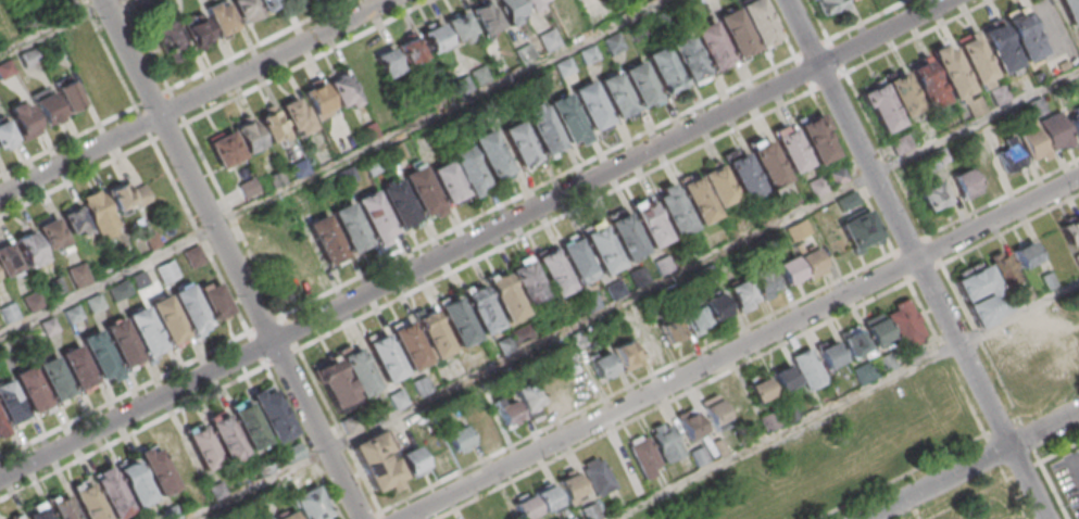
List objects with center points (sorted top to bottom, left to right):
building: (288, 0)
building: (851, 0)
road: (108, 1)
building: (532, 4)
building: (271, 7)
building: (828, 7)
building: (509, 10)
building: (1070, 10)
building: (244, 11)
building: (485, 17)
building: (756, 21)
building: (221, 22)
building: (457, 25)
road: (852, 27)
road: (52, 29)
building: (197, 30)
building: (733, 30)
building: (1022, 35)
building: (435, 37)
building: (548, 39)
building: (171, 40)
building: (710, 43)
road: (260, 45)
building: (998, 47)
building: (410, 49)
building: (587, 55)
building: (973, 56)
building: (688, 59)
road: (310, 62)
building: (563, 67)
building: (5, 68)
building: (387, 68)
building: (663, 69)
building: (950, 71)
building: (98, 75)
road: (852, 81)
building: (639, 83)
building: (927, 84)
building: (614, 92)
building: (66, 93)
building: (342, 93)
road: (196, 98)
building: (46, 103)
building: (590, 104)
building: (879, 106)
building: (23, 117)
building: (566, 117)
building: (1074, 122)
building: (271, 126)
building: (541, 129)
building: (4, 130)
building: (1054, 130)
building: (815, 138)
road: (153, 139)
road: (68, 141)
building: (517, 141)
building: (235, 142)
building: (1033, 142)
building: (899, 144)
building: (790, 150)
building: (490, 153)
building: (1009, 156)
building: (767, 164)
road: (331, 166)
building: (983, 168)
building: (467, 169)
building: (743, 176)
road: (76, 178)
building: (838, 178)
building: (447, 180)
building: (963, 181)
building: (716, 185)
road: (538, 186)
building: (817, 188)
building: (421, 190)
building: (932, 195)
building: (128, 198)
road: (1003, 198)
building: (697, 200)
building: (397, 203)
building: (848, 203)
building: (673, 210)
building: (100, 212)
building: (373, 214)
building: (73, 216)
road: (556, 218)
building: (650, 224)
building: (349, 226)
building: (49, 229)
building: (858, 229)
road: (1009, 230)
building: (1070, 231)
building: (798, 232)
building: (626, 236)
road: (927, 237)
building: (323, 238)
road: (474, 238)
building: (601, 248)
building: (1025, 254)
building: (195, 256)
road: (916, 258)
building: (1076, 259)
building: (8, 261)
road: (230, 261)
building: (577, 261)
building: (810, 262)
building: (677, 263)
building: (663, 267)
building: (788, 268)
building: (1003, 268)
building: (165, 270)
building: (552, 271)
building: (79, 277)
building: (640, 279)
building: (527, 281)
building: (765, 282)
building: (118, 291)
building: (616, 292)
building: (980, 293)
building: (740, 294)
road: (636, 295)
building: (504, 298)
building: (32, 301)
building: (214, 302)
building: (713, 303)
building: (93, 304)
building: (591, 304)
building: (189, 307)
building: (480, 309)
building: (72, 315)
building: (166, 318)
building: (694, 318)
building: (456, 321)
building: (903, 322)
building: (876, 328)
building: (670, 329)
building: (143, 330)
building: (432, 332)
building: (523, 339)
building: (648, 339)
building: (853, 341)
building: (121, 342)
building: (407, 344)
building: (1034, 346)
building: (505, 347)
road: (741, 347)
building: (828, 352)
building: (97, 354)
building: (625, 355)
building: (384, 357)
building: (884, 362)
building: (600, 364)
building: (76, 366)
building: (807, 368)
building: (356, 371)
building: (864, 371)
building: (52, 378)
building: (781, 378)
building: (334, 382)
road: (140, 384)
building: (421, 384)
building: (553, 388)
building: (757, 389)
building: (29, 390)
building: (527, 395)
building: (397, 398)
road: (844, 400)
road: (673, 401)
building: (10, 404)
building: (712, 408)
building: (505, 410)
building: (271, 414)
building: (351, 422)
building: (482, 422)
building: (689, 422)
building: (1, 423)
road: (151, 423)
building: (248, 425)
building: (1, 430)
building: (226, 436)
building: (456, 438)
building: (665, 441)
building: (718, 446)
building: (202, 448)
building: (434, 450)
building: (291, 453)
building: (642, 454)
building: (698, 455)
building: (179, 459)
building: (375, 460)
building: (412, 460)
road: (970, 464)
building: (156, 471)
building: (597, 476)
parking lot: (1068, 479)
building: (134, 482)
building: (569, 486)
building: (112, 494)
building: (545, 496)
building: (87, 502)
building: (309, 504)
building: (524, 506)
building: (61, 507)
building: (37, 511)
building: (588, 511)
road: (378, 514)
building: (286, 515)
building: (15, 517)

